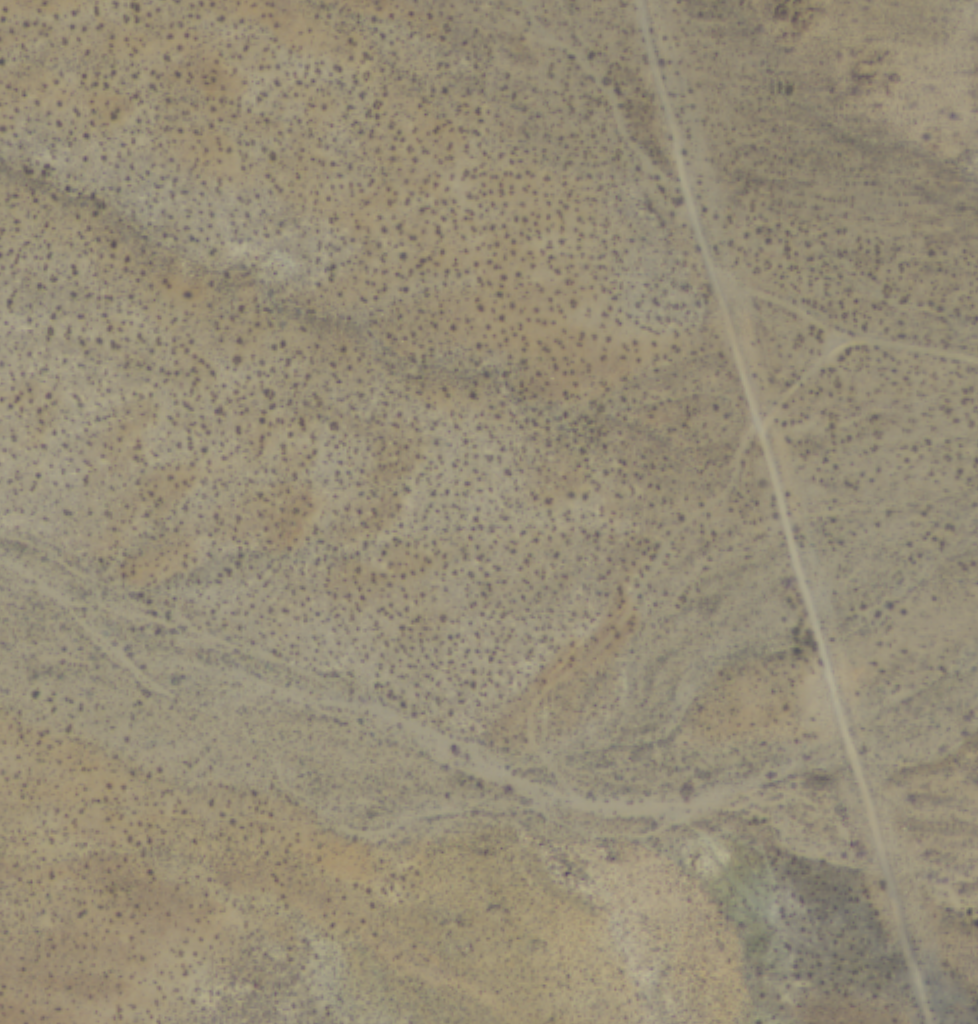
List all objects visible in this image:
road: (846, 334)
road: (784, 511)

